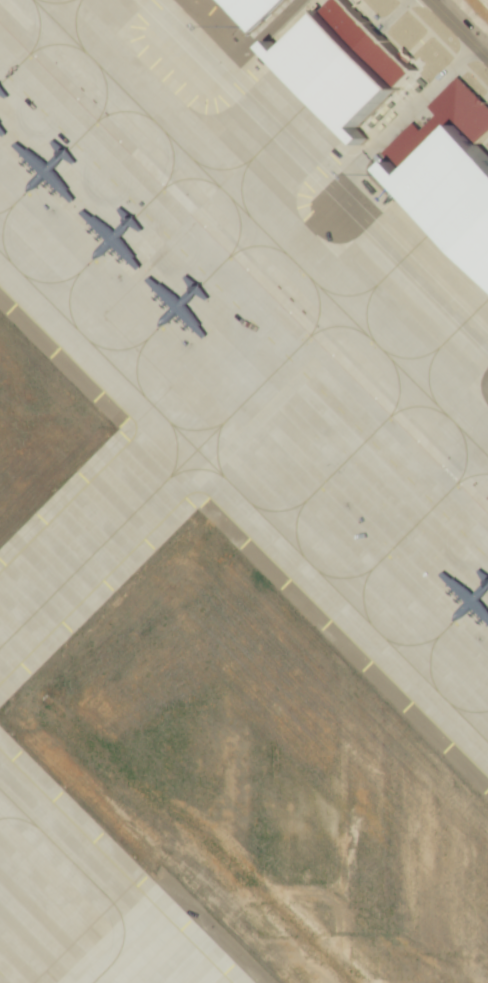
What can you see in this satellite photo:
airport hangar: (245, 12)
building: (245, 12)
road: (458, 29)
airport hangar: (334, 66)
building: (334, 66)
airport hangar: (447, 173)
building: (447, 173)
airport taxiway: (261, 227)
airport taxiway: (321, 309)
airport taxiway: (341, 328)
airport taxiway: (157, 492)

